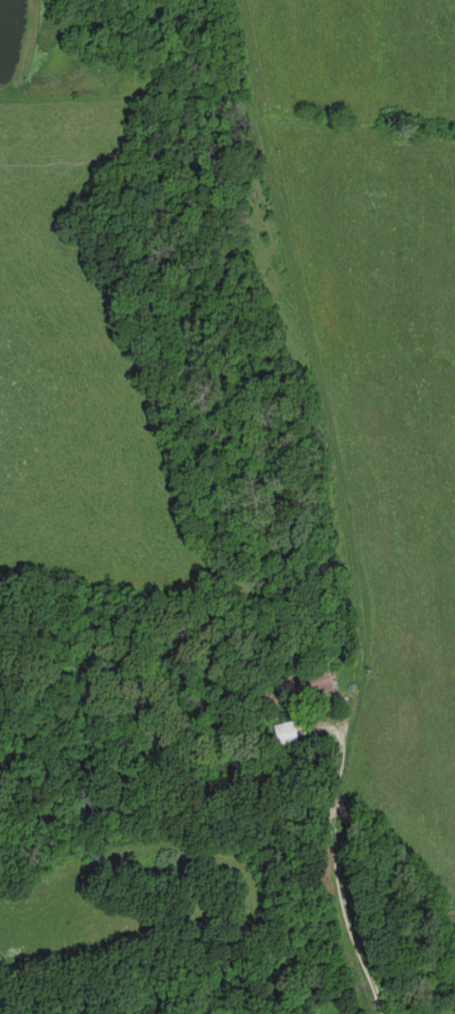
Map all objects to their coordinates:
road: (318, 372)

